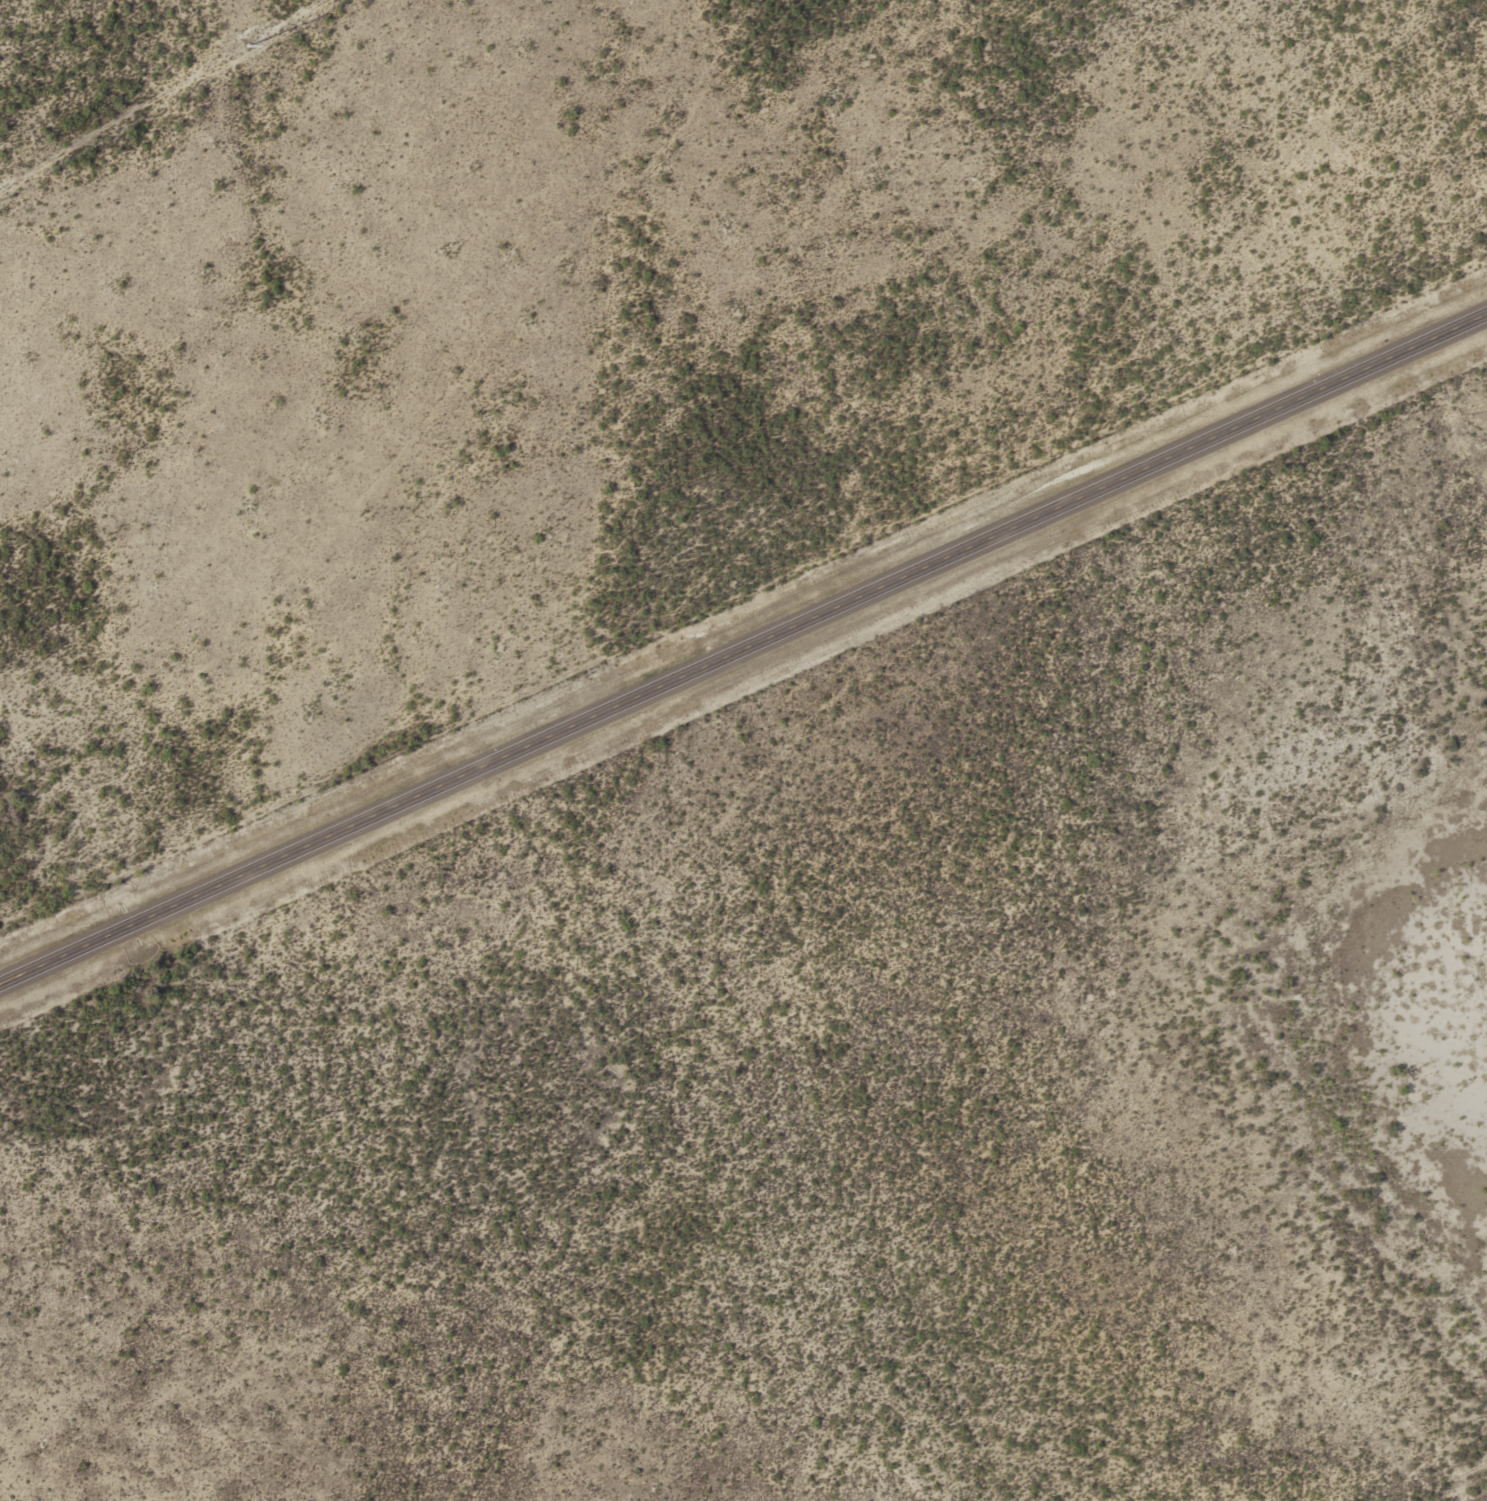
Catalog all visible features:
power tower: (248, 45)
road: (744, 655)
railway: (1479, 1497)

